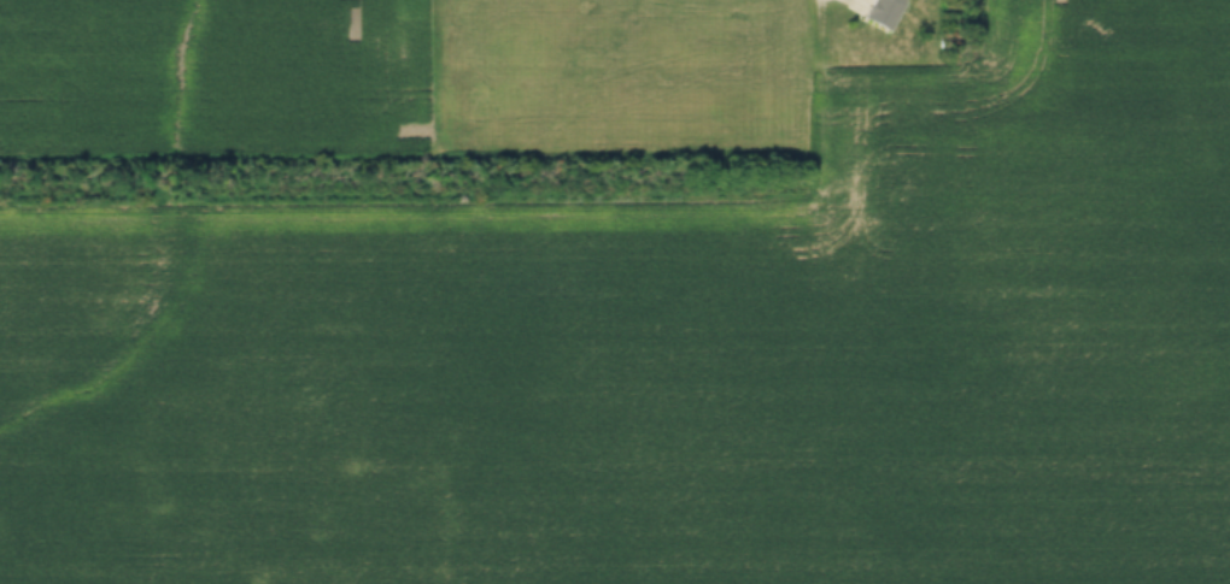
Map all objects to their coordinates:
road: (854, 2)
building: (883, 13)

